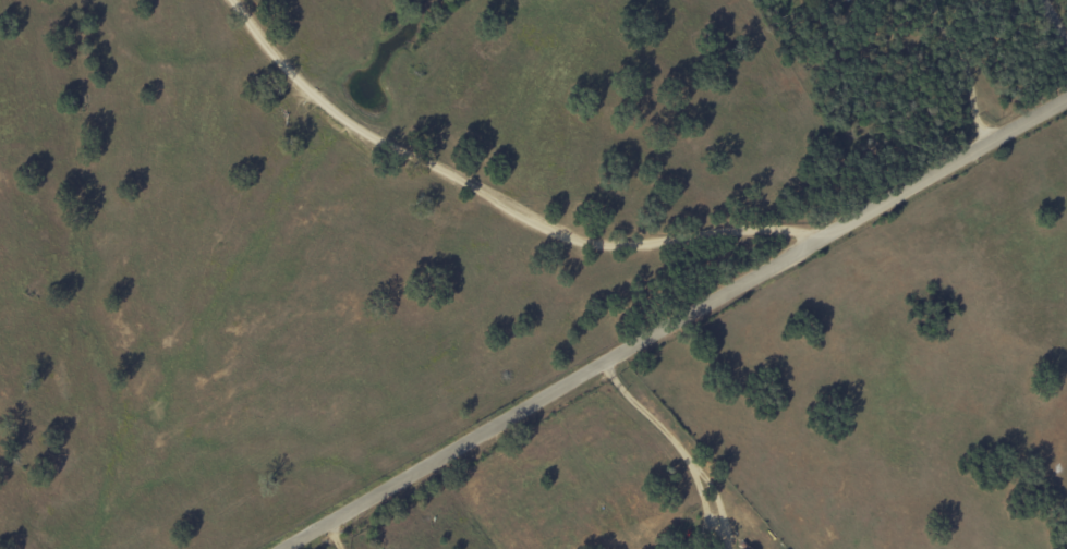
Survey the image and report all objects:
building: (848, 0)
road: (1053, 26)
road: (969, 69)
road: (460, 193)
road: (675, 324)
road: (669, 449)
road: (335, 536)

